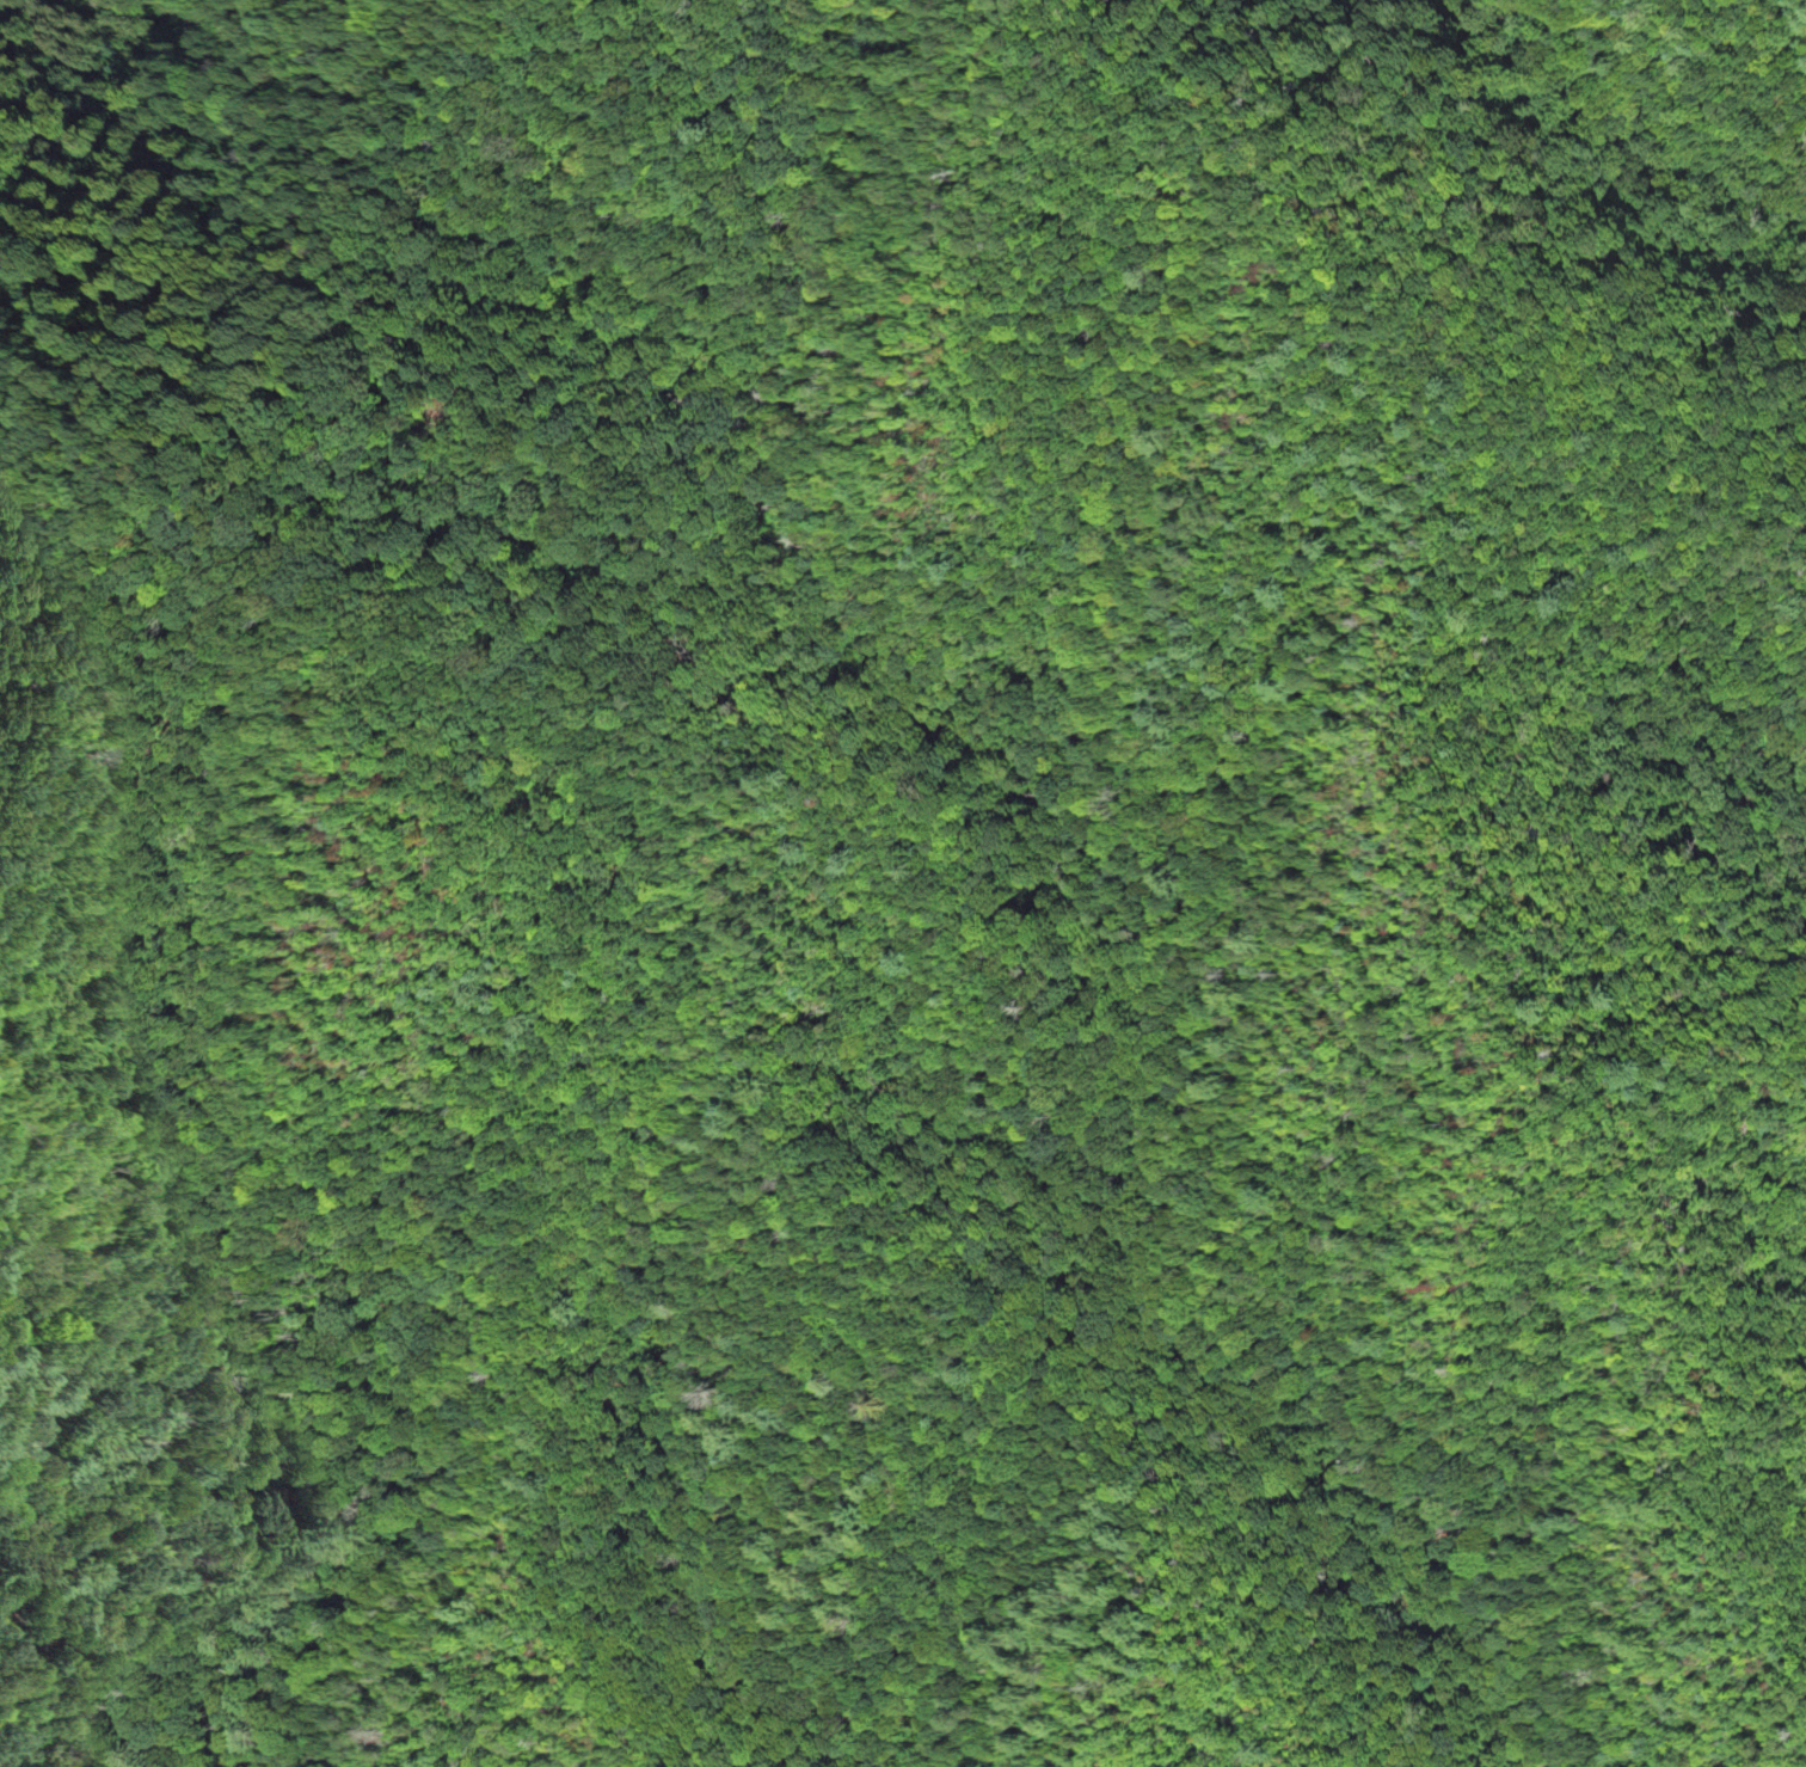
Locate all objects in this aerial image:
road: (787, 824)

